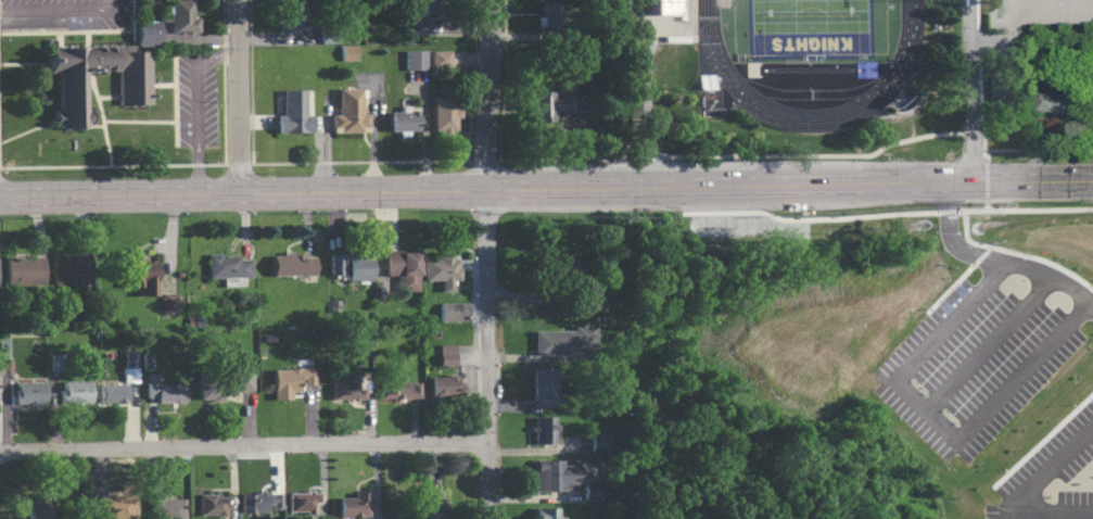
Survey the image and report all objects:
road: (1007, 2)
road: (1030, 3)
building: (672, 7)
road: (60, 9)
parking lot: (63, 14)
building: (420, 14)
building: (548, 14)
building: (291, 15)
building: (182, 16)
park: (809, 26)
road: (62, 31)
building: (148, 35)
road: (59, 39)
road: (87, 39)
building: (326, 42)
parking lot: (1021, 51)
building: (345, 60)
road: (1007, 61)
road: (23, 64)
building: (437, 65)
building: (410, 66)
track: (716, 69)
road: (470, 80)
road: (504, 80)
road: (224, 81)
road: (252, 81)
road: (162, 84)
road: (645, 86)
road: (974, 90)
building: (132, 91)
road: (491, 94)
road: (239, 96)
building: (1064, 97)
road: (106, 98)
road: (175, 99)
parking lot: (195, 99)
building: (556, 109)
building: (291, 112)
building: (444, 114)
road: (100, 117)
building: (346, 118)
road: (138, 121)
road: (93, 126)
building: (401, 126)
road: (27, 129)
road: (558, 159)
road: (980, 180)
road: (501, 183)
road: (758, 186)
road: (322, 191)
road: (763, 203)
road: (589, 206)
road: (1044, 208)
road: (963, 211)
road: (804, 218)
road: (994, 261)
building: (562, 263)
building: (291, 264)
building: (229, 267)
building: (348, 267)
building: (401, 268)
building: (69, 269)
building: (440, 269)
building: (22, 270)
building: (140, 274)
building: (169, 301)
building: (584, 301)
building: (446, 312)
building: (562, 340)
road: (486, 353)
building: (445, 354)
building: (147, 362)
building: (54, 363)
building: (3, 365)
building: (127, 366)
building: (605, 374)
building: (290, 381)
building: (221, 383)
building: (445, 385)
building: (542, 388)
building: (346, 389)
building: (398, 389)
building: (75, 391)
building: (28, 392)
building: (167, 392)
building: (112, 393)
road: (933, 422)
building: (542, 430)
road: (244, 446)
building: (554, 474)
building: (589, 491)
road: (1021, 491)
building: (302, 502)
building: (259, 503)
building: (353, 504)
building: (427, 504)
building: (212, 505)
building: (114, 506)
building: (165, 507)
building: (39, 508)
building: (544, 512)

